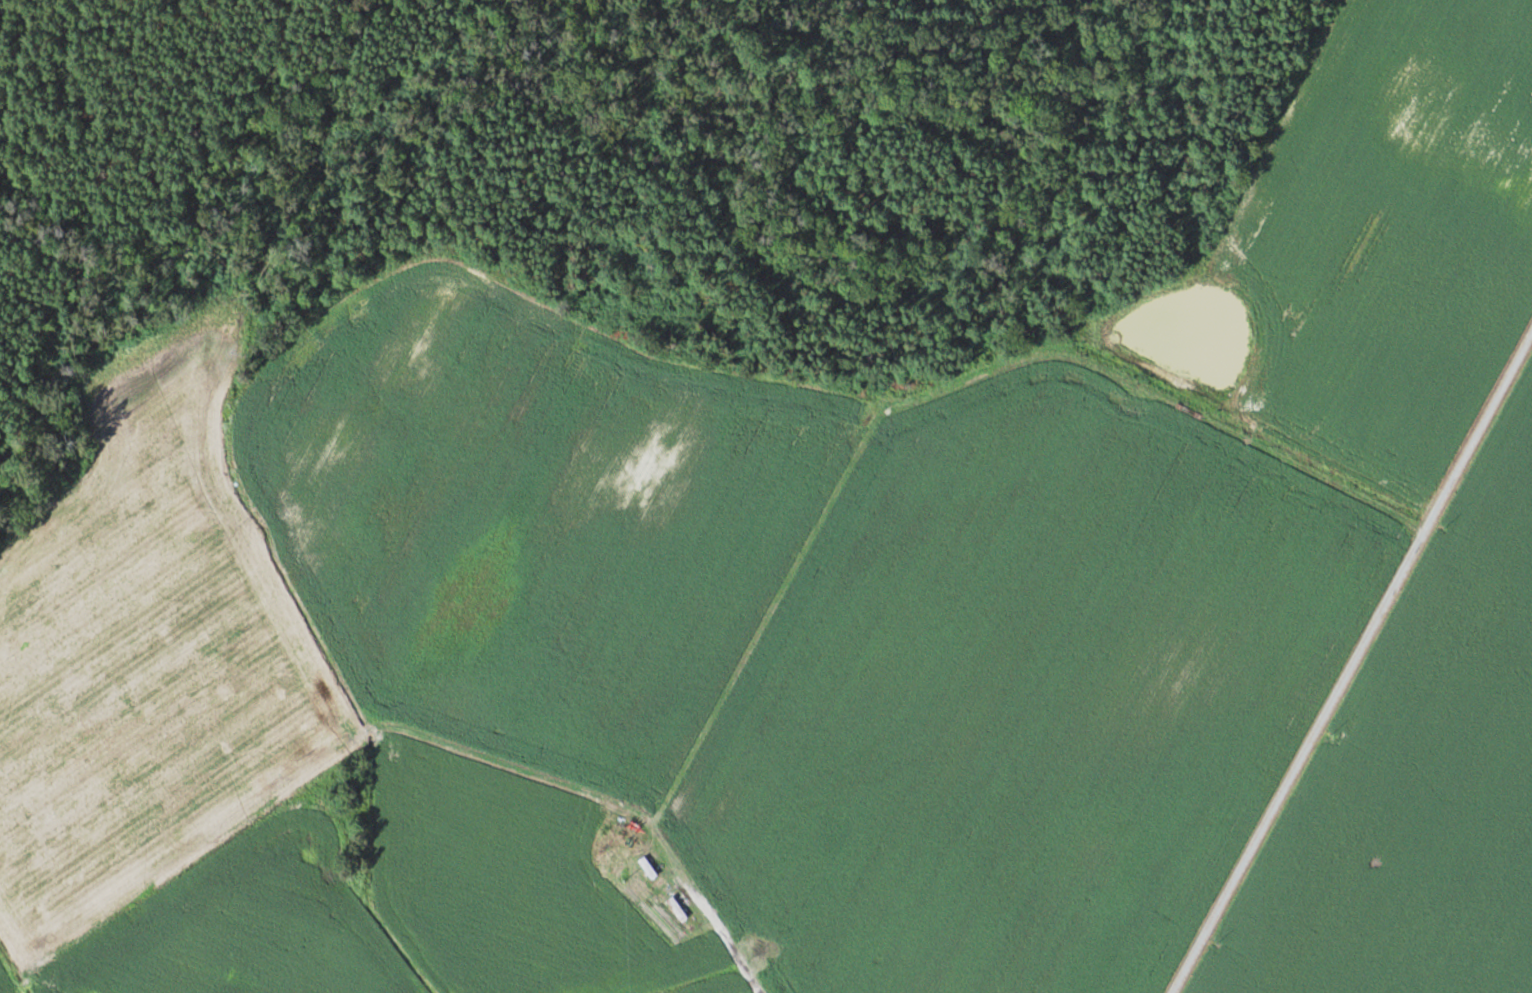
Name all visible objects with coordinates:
building: (616, 853)

